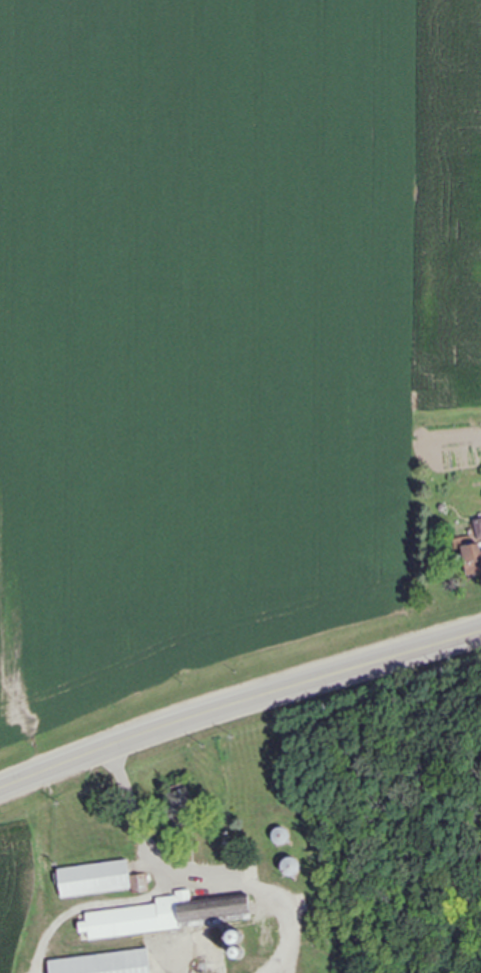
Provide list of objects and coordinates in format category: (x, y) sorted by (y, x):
building: (475, 529)
building: (479, 556)
road: (239, 710)
building: (280, 836)
road: (147, 845)
building: (289, 867)
building: (96, 879)
building: (164, 916)
building: (106, 964)

